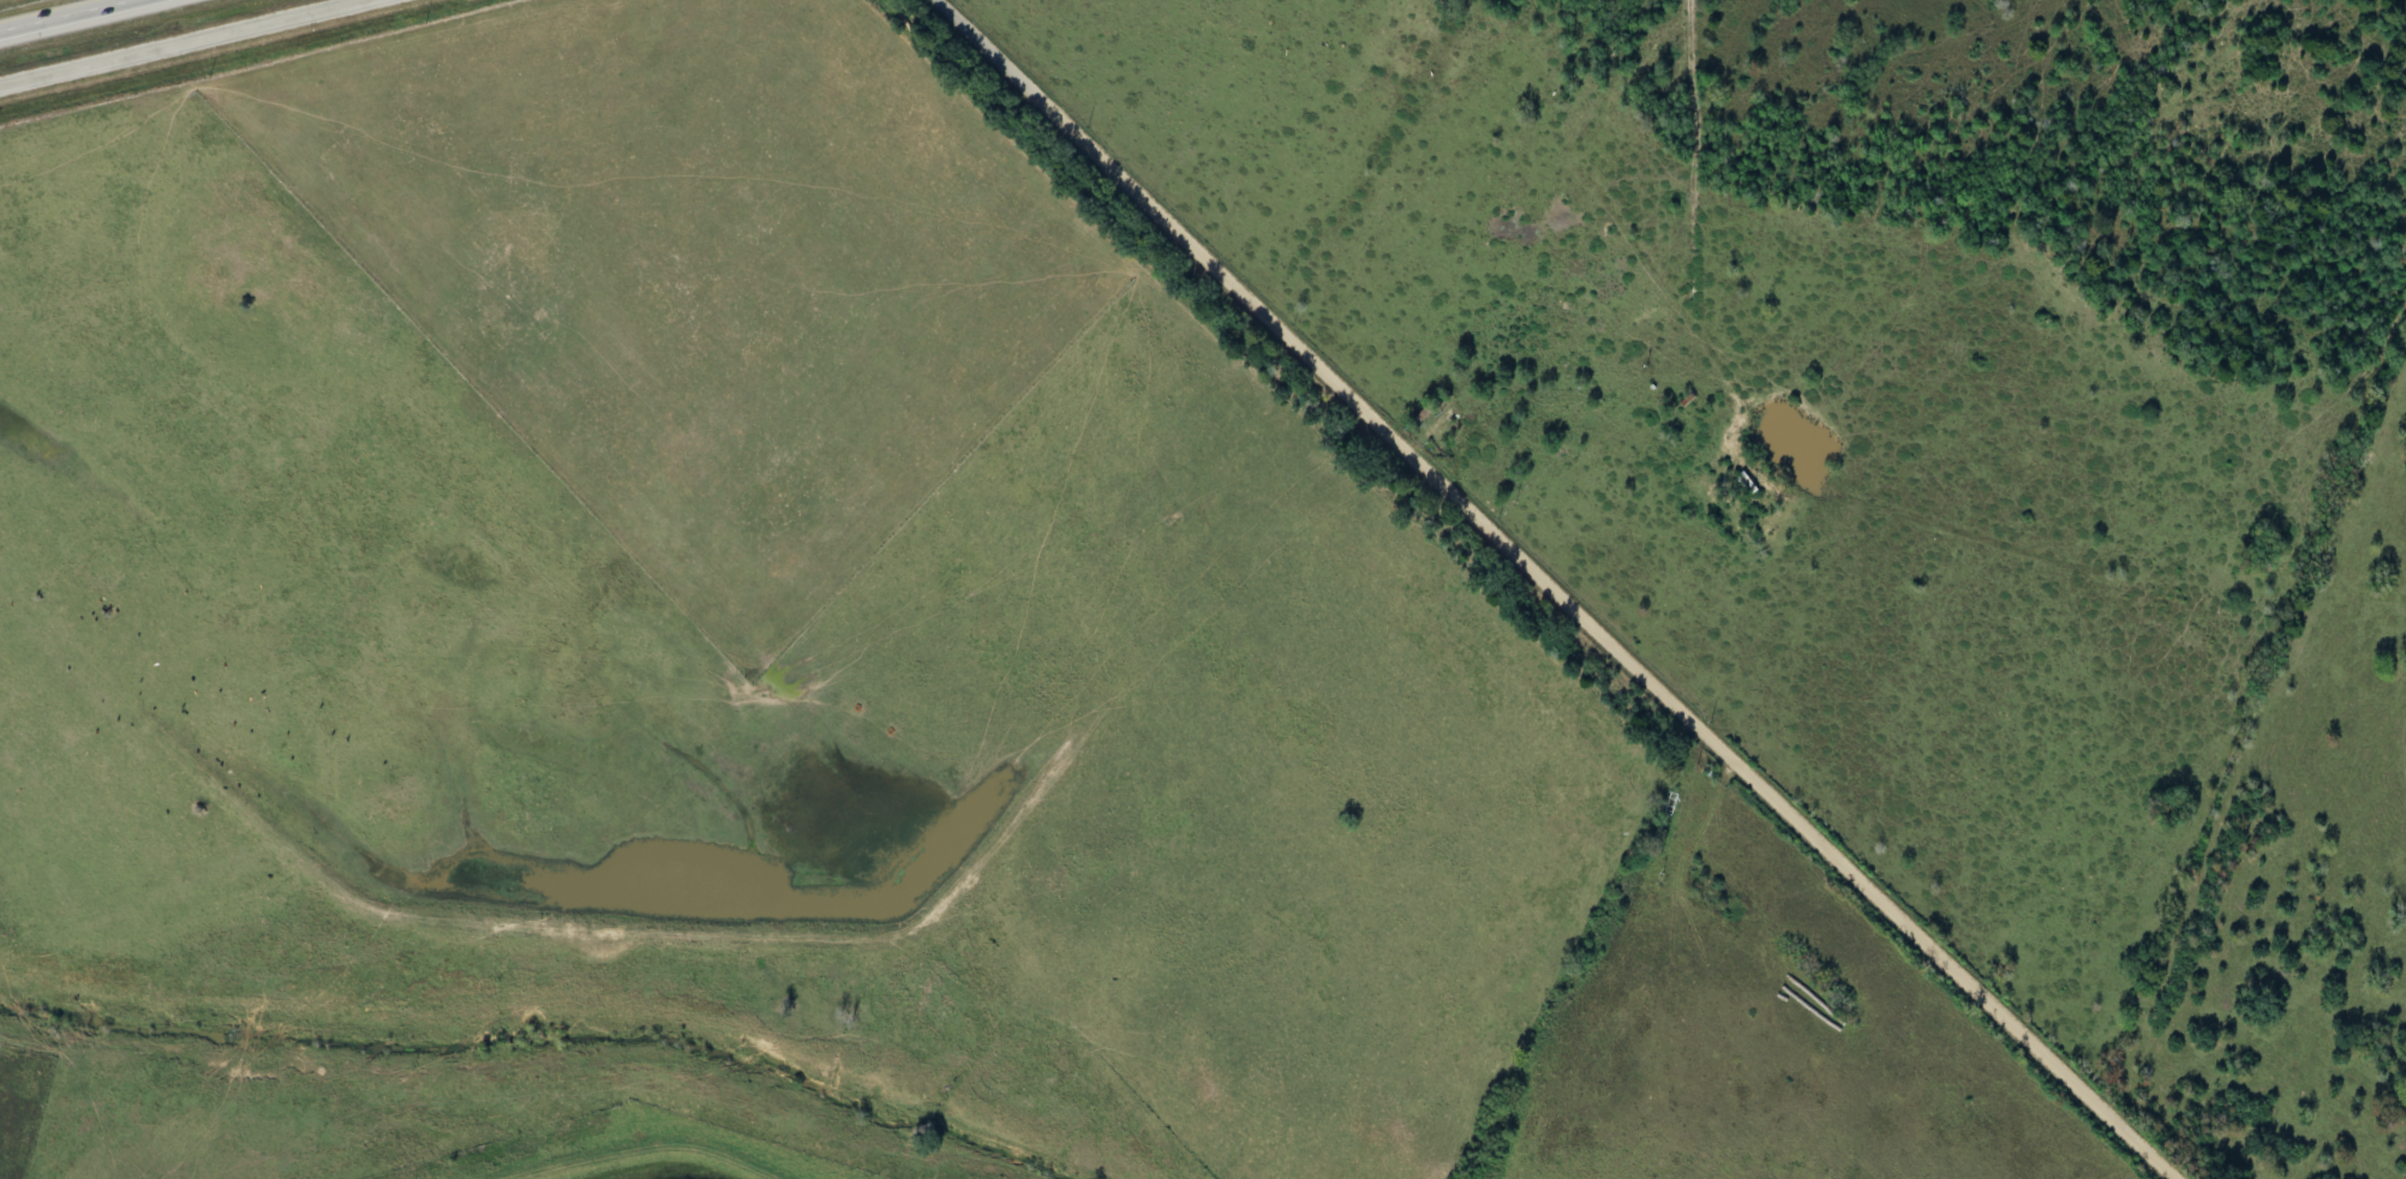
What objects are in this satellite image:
road: (70, 16)
road: (179, 41)
road: (1556, 587)

